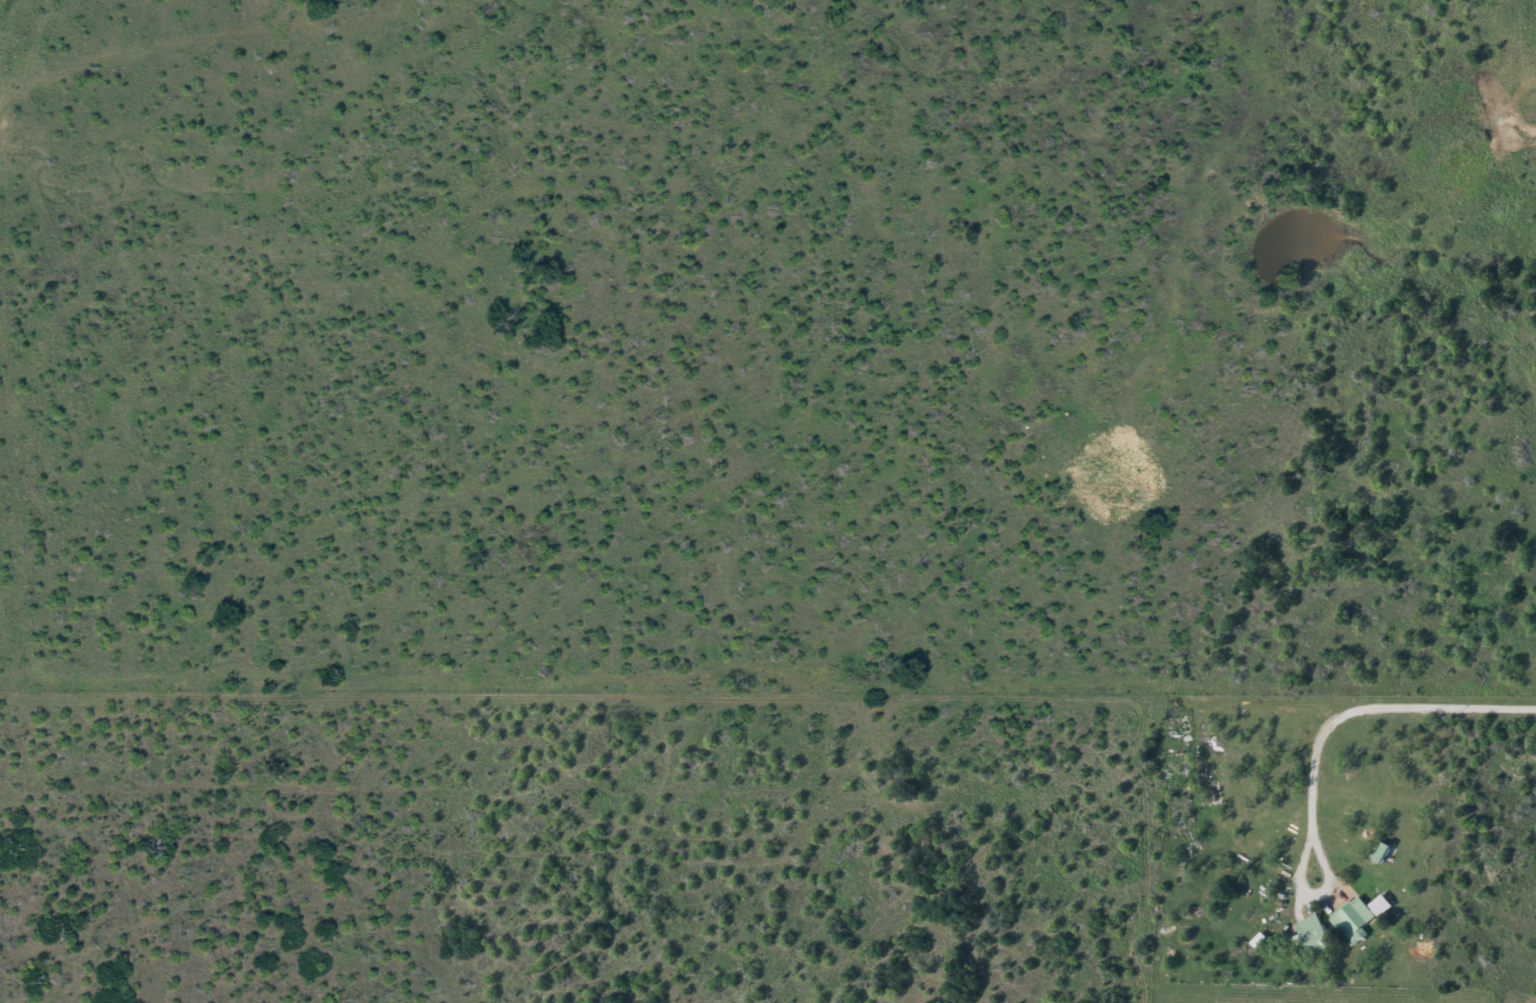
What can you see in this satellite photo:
building: (1380, 856)
building: (1353, 923)
building: (1313, 938)

